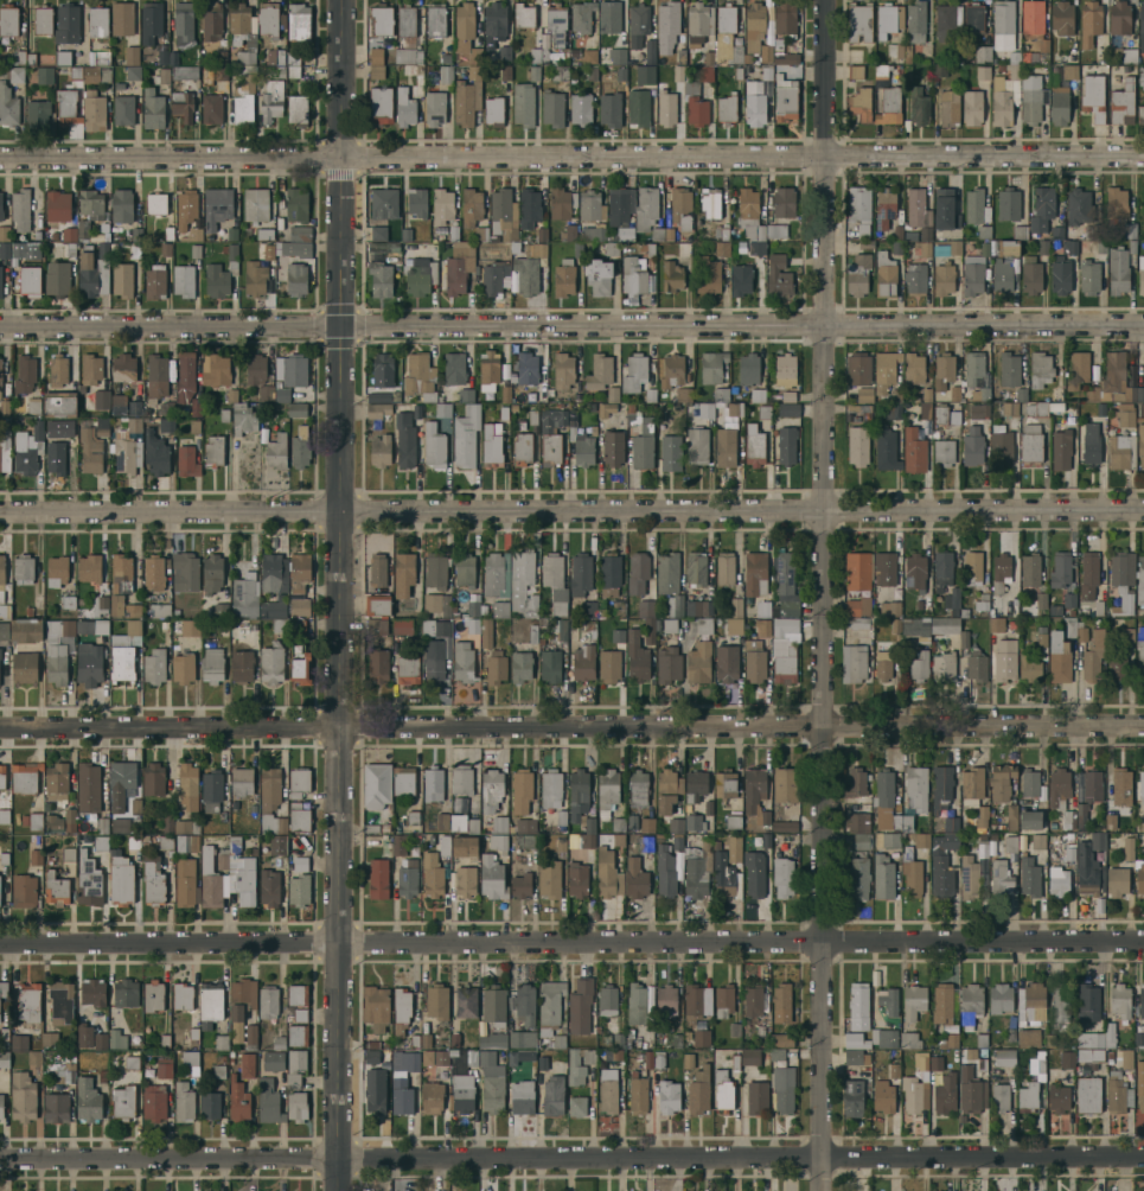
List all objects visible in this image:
building: (524, 15)
building: (582, 15)
building: (1034, 15)
building: (609, 17)
building: (785, 17)
building: (974, 17)
building: (1004, 17)
building: (1062, 17)
building: (121, 18)
building: (889, 18)
building: (1120, 18)
building: (8, 19)
building: (436, 19)
building: (465, 19)
building: (494, 19)
building: (43, 20)
building: (183, 20)
building: (268, 20)
building: (407, 20)
building: (945, 20)
building: (98, 21)
building: (151, 21)
building: (212, 21)
building: (298, 21)
building: (382, 21)
building: (699, 21)
building: (858, 21)
building: (916, 21)
building: (1091, 21)
building: (238, 23)
building: (68, 24)
building: (556, 24)
building: (638, 24)
building: (667, 25)
building: (754, 25)
building: (1140, 26)
building: (727, 36)
building: (1043, 44)
building: (650, 51)
building: (896, 51)
building: (498, 52)
building: (575, 52)
building: (766, 52)
building: (983, 52)
building: (908, 53)
building: (956, 53)
building: (536, 55)
building: (544, 55)
building: (618, 55)
building: (130, 56)
building: (375, 56)
building: (409, 56)
building: (469, 56)
building: (590, 56)
building: (680, 56)
building: (1068, 56)
building: (18, 57)
building: (102, 57)
building: (162, 57)
building: (245, 57)
building: (279, 57)
building: (707, 57)
building: (1015, 57)
building: (31, 58)
building: (63, 58)
building: (172, 58)
building: (221, 58)
building: (293, 58)
building: (749, 58)
building: (786, 58)
building: (281, 70)
building: (908, 70)
building: (940, 70)
building: (221, 71)
building: (292, 71)
building: (377, 71)
building: (855, 71)
building: (983, 71)
building: (1070, 71)
building: (12, 72)
building: (76, 72)
building: (184, 72)
building: (505, 72)
building: (535, 72)
building: (560, 72)
building: (593, 72)
building: (621, 72)
building: (678, 72)
building: (739, 72)
building: (767, 72)
building: (96, 74)
building: (133, 74)
building: (446, 74)
building: (646, 74)
building: (45, 75)
building: (164, 75)
building: (881, 75)
building: (1142, 76)
building: (415, 77)
building: (117, 85)
building: (786, 94)
building: (1005, 95)
building: (1093, 95)
building: (243, 96)
building: (467, 96)
building: (697, 97)
building: (1033, 97)
building: (270, 101)
building: (1123, 101)
building: (523, 103)
building: (755, 103)
building: (861, 103)
building: (381, 104)
building: (8, 106)
building: (181, 106)
building: (889, 106)
building: (919, 106)
building: (66, 107)
building: (404, 107)
building: (434, 107)
building: (638, 107)
building: (950, 107)
building: (972, 107)
building: (1060, 107)
building: (552, 108)
building: (581, 108)
building: (611, 108)
building: (666, 108)
building: (727, 108)
building: (152, 109)
building: (211, 109)
building: (296, 109)
building: (122, 110)
building: (493, 110)
building: (94, 112)
building: (38, 114)
building: (1140, 114)
road: (571, 154)
road: (344, 161)
building: (416, 199)
building: (90, 202)
building: (384, 202)
building: (561, 202)
building: (710, 202)
building: (784, 202)
building: (156, 203)
building: (859, 203)
building: (1008, 203)
building: (1117, 203)
building: (295, 204)
building: (57, 205)
building: (122, 205)
building: (255, 205)
building: (442, 205)
building: (589, 205)
building: (620, 205)
building: (974, 205)
building: (1143, 205)
building: (216, 206)
building: (471, 206)
building: (529, 206)
building: (682, 206)
building: (1079, 206)
building: (1, 208)
building: (646, 208)
building: (186, 209)
building: (1042, 209)
building: (884, 210)
building: (945, 210)
building: (21, 212)
building: (916, 212)
building: (503, 214)
building: (749, 214)
building: (83, 228)
building: (776, 230)
building: (863, 230)
building: (1130, 230)
building: (721, 231)
building: (899, 231)
building: (984, 231)
building: (1020, 231)
building: (1088, 231)
building: (5, 233)
building: (168, 233)
building: (299, 233)
building: (378, 233)
building: (481, 233)
building: (542, 233)
building: (569, 233)
building: (594, 233)
building: (622, 233)
building: (926, 233)
building: (1057, 233)
building: (38, 234)
building: (69, 234)
building: (100, 234)
building: (136, 234)
building: (192, 234)
building: (231, 234)
building: (264, 234)
building: (407, 234)
building: (658, 234)
building: (669, 234)
building: (867, 243)
building: (1132, 246)
building: (383, 247)
building: (479, 247)
building: (758, 247)
building: (897, 247)
building: (956, 247)
building: (1008, 247)
building: (1043, 247)
building: (1073, 247)
building: (19, 248)
building: (295, 248)
building: (612, 248)
building: (651, 248)
building: (722, 248)
building: (923, 248)
building: (71, 249)
building: (136, 249)
building: (166, 249)
building: (536, 249)
building: (577, 249)
building: (684, 249)
building: (985, 249)
building: (5, 250)
building: (196, 250)
building: (269, 250)
building: (459, 266)
building: (496, 267)
building: (1093, 270)
building: (1118, 270)
building: (94, 272)
building: (221, 273)
building: (858, 274)
building: (884, 274)
building: (1142, 274)
building: (420, 275)
building: (526, 275)
building: (597, 275)
building: (708, 275)
building: (1031, 275)
building: (634, 276)
building: (672, 276)
building: (778, 276)
building: (1003, 276)
building: (58, 278)
building: (254, 278)
building: (564, 278)
building: (944, 278)
building: (973, 278)
building: (1061, 278)
building: (122, 279)
building: (295, 279)
building: (381, 279)
building: (741, 279)
building: (915, 279)
building: (1, 281)
building: (30, 281)
building: (183, 281)
building: (155, 284)
road: (743, 321)
road: (172, 325)
building: (124, 367)
building: (712, 367)
building: (454, 368)
building: (528, 368)
building: (858, 368)
building: (914, 368)
building: (1143, 368)
building: (58, 369)
building: (256, 369)
building: (292, 369)
building: (748, 369)
building: (1009, 369)
building: (1040, 369)
building: (1079, 369)
building: (90, 370)
building: (216, 370)
building: (383, 370)
building: (488, 370)
building: (563, 370)
building: (672, 370)
building: (785, 370)
building: (884, 370)
building: (944, 370)
building: (186, 371)
building: (599, 371)
building: (634, 372)
building: (1, 374)
building: (25, 374)
building: (156, 376)
building: (420, 376)
building: (976, 376)
building: (1116, 378)
building: (277, 383)
building: (550, 391)
building: (267, 393)
building: (577, 393)
building: (956, 393)
building: (281, 394)
building: (506, 394)
building: (613, 394)
building: (651, 394)
building: (680, 394)
building: (721, 394)
building: (865, 394)
building: (1093, 394)
building: (1140, 394)
building: (232, 395)
building: (466, 395)
building: (531, 395)
building: (756, 395)
building: (895, 395)
building: (927, 395)
building: (1022, 395)
building: (788, 396)
building: (378, 397)
building: (102, 399)
building: (60, 403)
building: (34, 405)
building: (120, 405)
building: (1055, 406)
building: (135, 407)
building: (166, 407)
building: (196, 407)
building: (735, 407)
building: (1010, 408)
building: (298, 409)
building: (443, 409)
building: (606, 409)
building: (704, 409)
building: (788, 409)
building: (893, 409)
building: (1036, 409)
building: (1101, 409)
building: (1142, 409)
building: (378, 410)
building: (416, 410)
building: (862, 410)
building: (926, 410)
building: (979, 410)
building: (765, 412)
building: (504, 413)
building: (224, 414)
building: (629, 414)
building: (660, 414)
building: (532, 416)
building: (945, 416)
building: (852, 418)
building: (1126, 418)
building: (244, 419)
building: (167, 425)
building: (102, 426)
building: (194, 426)
building: (68, 429)
building: (939, 433)
building: (551, 434)
building: (465, 435)
building: (404, 439)
building: (5, 442)
building: (580, 442)
building: (1031, 444)
building: (1091, 444)
building: (1140, 444)
building: (697, 445)
building: (754, 445)
building: (786, 445)
building: (128, 446)
building: (434, 446)
building: (491, 446)
building: (857, 446)
building: (973, 446)
building: (1002, 446)
building: (28, 447)
building: (300, 447)
building: (613, 447)
building: (643, 447)
building: (726, 447)
building: (523, 448)
building: (213, 450)
building: (379, 450)
building: (886, 450)
building: (1062, 450)
building: (90, 451)
building: (277, 451)
building: (914, 451)
building: (1121, 451)
building: (670, 452)
building: (944, 452)
building: (57, 458)
building: (156, 458)
building: (187, 461)
road: (571, 507)
building: (89, 567)
building: (1091, 567)
building: (23, 568)
building: (724, 568)
building: (884, 568)
building: (972, 568)
building: (377, 569)
building: (465, 569)
building: (551, 569)
building: (696, 569)
building: (942, 569)
building: (1062, 569)
building: (1, 571)
building: (58, 571)
building: (435, 571)
building: (857, 571)
building: (914, 571)
building: (185, 572)
building: (1001, 572)
building: (1033, 572)
building: (121, 573)
building: (154, 573)
building: (212, 573)
building: (274, 573)
building: (299, 573)
building: (638, 573)
building: (666, 573)
building: (755, 573)
building: (403, 574)
building: (497, 574)
building: (580, 574)
building: (611, 574)
building: (1123, 581)
building: (1140, 581)
building: (523, 582)
building: (785, 584)
road: (824, 595)
building: (245, 598)
building: (1014, 599)
building: (953, 600)
building: (1069, 600)
building: (38, 601)
building: (68, 601)
building: (79, 601)
building: (377, 604)
building: (919, 604)
building: (1041, 604)
building: (100, 605)
building: (446, 605)
building: (675, 605)
building: (980, 605)
building: (300, 606)
building: (473, 606)
building: (1098, 606)
building: (133, 607)
building: (562, 607)
building: (618, 607)
building: (698, 607)
building: (736, 607)
building: (858, 607)
building: (891, 607)
building: (500, 609)
building: (588, 609)
building: (646, 609)
building: (763, 609)
building: (160, 610)
building: (222, 610)
building: (274, 610)
building: (28, 611)
building: (5, 612)
building: (177, 612)
building: (601, 612)
building: (966, 612)
building: (426, 613)
building: (542, 623)
building: (857, 623)
building: (165, 624)
building: (471, 624)
building: (997, 624)
building: (1011, 624)
building: (281, 625)
building: (298, 625)
building: (403, 625)
building: (666, 625)
building: (704, 625)
building: (734, 625)
building: (896, 625)
building: (945, 625)
building: (87, 626)
building: (376, 626)
building: (589, 626)
building: (784, 626)
building: (188, 628)
building: (436, 628)
building: (916, 628)
building: (560, 629)
building: (1072, 629)
building: (5, 630)
building: (26, 630)
building: (648, 630)
building: (486, 632)
building: (766, 632)
building: (1081, 632)
building: (532, 633)
building: (1129, 633)
building: (620, 635)
building: (1041, 637)
building: (964, 639)
building: (541, 643)
building: (57, 649)
building: (0, 652)
building: (126, 652)
building: (1140, 652)
building: (1093, 655)
building: (637, 656)
building: (1059, 658)
building: (433, 660)
building: (1005, 660)
building: (464, 662)
building: (583, 662)
building: (754, 662)
building: (856, 662)
building: (273, 663)
building: (699, 663)
building: (727, 663)
building: (89, 664)
building: (212, 664)
building: (301, 664)
building: (667, 664)
building: (1029, 664)
building: (155, 665)
building: (242, 665)
building: (377, 665)
building: (550, 665)
building: (609, 665)
building: (785, 665)
building: (883, 665)
building: (24, 667)
building: (496, 667)
building: (520, 667)
building: (920, 667)
building: (944, 667)
building: (977, 667)
building: (184, 668)
building: (1118, 668)
building: (408, 669)
road: (571, 724)
road: (339, 756)
building: (2, 776)
building: (25, 777)
building: (153, 778)
building: (461, 779)
building: (403, 781)
building: (1002, 781)
building: (57, 782)
building: (241, 782)
building: (1030, 782)
building: (299, 783)
building: (432, 783)
building: (856, 783)
building: (942, 783)
building: (122, 784)
building: (724, 784)
building: (1143, 784)
building: (188, 785)
building: (212, 785)
building: (376, 785)
building: (695, 785)
building: (785, 785)
building: (550, 786)
building: (972, 786)
building: (1123, 786)
building: (88, 788)
building: (638, 788)
building: (754, 788)
building: (883, 788)
building: (1060, 788)
building: (608, 789)
building: (916, 789)
building: (491, 790)
building: (520, 790)
building: (667, 790)
building: (577, 794)
building: (1089, 796)
building: (270, 802)
building: (460, 803)
building: (136, 807)
building: (708, 807)
building: (5, 815)
building: (234, 815)
building: (982, 816)
building: (299, 817)
building: (413, 817)
building: (561, 817)
building: (765, 817)
building: (1011, 817)
building: (1069, 819)
building: (25, 820)
building: (70, 820)
building: (733, 820)
building: (1031, 820)
building: (36, 821)
building: (136, 821)
building: (441, 821)
building: (1111, 821)
building: (857, 822)
building: (896, 822)
building: (167, 823)
building: (459, 823)
building: (694, 823)
building: (786, 823)
building: (907, 823)
building: (950, 823)
building: (55, 824)
building: (121, 824)
building: (499, 824)
building: (590, 824)
building: (618, 824)
building: (647, 824)
building: (676, 824)
building: (103, 826)
building: (473, 826)
building: (525, 826)
building: (185, 827)
building: (1001, 827)
building: (371, 828)
building: (1052, 828)
building: (292, 836)
building: (659, 837)
building: (525, 840)
building: (587, 840)
building: (619, 840)
building: (766, 840)
building: (888, 840)
building: (921, 840)
building: (861, 841)
building: (1038, 841)
building: (1098, 841)
building: (134, 842)
building: (165, 842)
building: (186, 842)
building: (498, 842)
building: (101, 843)
building: (398, 843)
building: (645, 843)
building: (279, 845)
building: (561, 845)
building: (707, 845)
building: (716, 845)
building: (1010, 845)
building: (464, 846)
building: (445, 847)
building: (983, 847)
building: (734, 848)
building: (1070, 853)
building: (69, 854)
building: (36, 856)
building: (5, 858)
building: (50, 859)
building: (223, 859)
building: (300, 864)
building: (942, 865)
building: (669, 866)
building: (1087, 870)
building: (1121, 870)
building: (754, 873)
building: (241, 874)
building: (432, 874)
building: (607, 874)
building: (858, 874)
building: (912, 875)
building: (782, 877)
building: (883, 877)
building: (153, 878)
building: (492, 878)
building: (635, 878)
building: (695, 878)
building: (969, 878)
building: (1001, 878)
building: (1030, 878)
building: (121, 879)
building: (378, 879)
building: (408, 879)
building: (1140, 879)
building: (212, 880)
building: (550, 880)
building: (577, 880)
building: (186, 881)
building: (465, 881)
building: (724, 883)
building: (1059, 883)
building: (89, 884)
building: (520, 885)
building: (737, 885)
building: (269, 887)
building: (56, 889)
building: (299, 890)
building: (24, 891)
road: (571, 943)
building: (4, 988)
building: (94, 992)
building: (124, 992)
building: (298, 994)
building: (153, 995)
building: (183, 996)
building: (243, 996)
building: (1001, 998)
building: (666, 1000)
building: (723, 1000)
building: (781, 1000)
building: (28, 1001)
building: (59, 1001)
building: (211, 1001)
building: (268, 1001)
building: (436, 1001)
building: (466, 1001)
building: (550, 1001)
building: (607, 1001)
building: (753, 1001)
building: (889, 1001)
building: (913, 1001)
building: (1120, 1001)
building: (1142, 1001)
building: (692, 1002)
building: (1035, 1002)
building: (1088, 1002)
building: (525, 1004)
building: (635, 1004)
building: (942, 1004)
building: (493, 1005)
building: (970, 1005)
building: (580, 1006)
building: (858, 1006)
building: (376, 1007)
building: (1061, 1007)
building: (401, 1011)
building: (300, 1015)
building: (734, 1030)
building: (237, 1031)
building: (1110, 1032)
building: (5, 1033)
building: (194, 1033)
building: (251, 1033)
building: (83, 1034)
building: (298, 1034)
building: (1011, 1034)
building: (49, 1038)
building: (136, 1038)
building: (607, 1038)
building: (702, 1038)
building: (886, 1038)
building: (1029, 1038)
building: (1139, 1038)
building: (116, 1039)
building: (454, 1039)
building: (522, 1039)
building: (619, 1039)
building: (100, 1040)
building: (165, 1040)
building: (493, 1040)
building: (781, 1040)
building: (855, 1040)
building: (909, 1040)
building: (952, 1040)
building: (982, 1040)
building: (1050, 1040)
building: (1091, 1040)
building: (19, 1042)
building: (222, 1042)
building: (280, 1042)
building: (411, 1042)
building: (426, 1042)
building: (558, 1042)
building: (677, 1042)
building: (371, 1044)
building: (5, 1045)
building: (386, 1045)
building: (971, 1053)
building: (616, 1055)
building: (1098, 1055)
building: (1111, 1055)
building: (371, 1056)
building: (852, 1056)
building: (34, 1057)
building: (750, 1057)
building: (776, 1057)
building: (1004, 1057)
building: (4, 1058)
building: (222, 1058)
building: (441, 1058)
building: (472, 1058)
building: (1126, 1058)
building: (647, 1059)
building: (659, 1059)
building: (190, 1061)
building: (273, 1061)
building: (405, 1061)
building: (689, 1061)
building: (905, 1061)
building: (921, 1061)
building: (1068, 1061)
building: (132, 1062)
building: (543, 1063)
building: (937, 1064)
building: (248, 1065)
building: (513, 1065)
building: (982, 1065)
building: (162, 1068)
building: (295, 1068)
building: (576, 1070)
building: (219, 1071)
building: (894, 1071)
building: (64, 1072)
building: (102, 1075)
building: (491, 1082)
building: (727, 1083)
building: (1140, 1084)
building: (1031, 1085)
building: (784, 1089)
building: (375, 1090)
building: (698, 1091)
building: (971, 1091)
building: (462, 1093)
building: (1118, 1093)
building: (608, 1094)
building: (945, 1094)
building: (552, 1095)
building: (638, 1095)
building: (914, 1095)
building: (1089, 1095)
building: (23, 1096)
building: (401, 1096)
building: (667, 1096)
building: (883, 1096)
building: (432, 1097)
building: (522, 1097)
building: (756, 1097)
building: (852, 1097)
building: (1001, 1097)
building: (1059, 1098)
building: (238, 1100)
building: (87, 1101)
building: (122, 1102)
building: (154, 1102)
building: (183, 1102)
building: (268, 1102)
building: (1, 1106)
building: (210, 1106)
building: (296, 1106)
building: (577, 1107)
building: (56, 1108)
building: (961, 1119)
road: (571, 1158)

